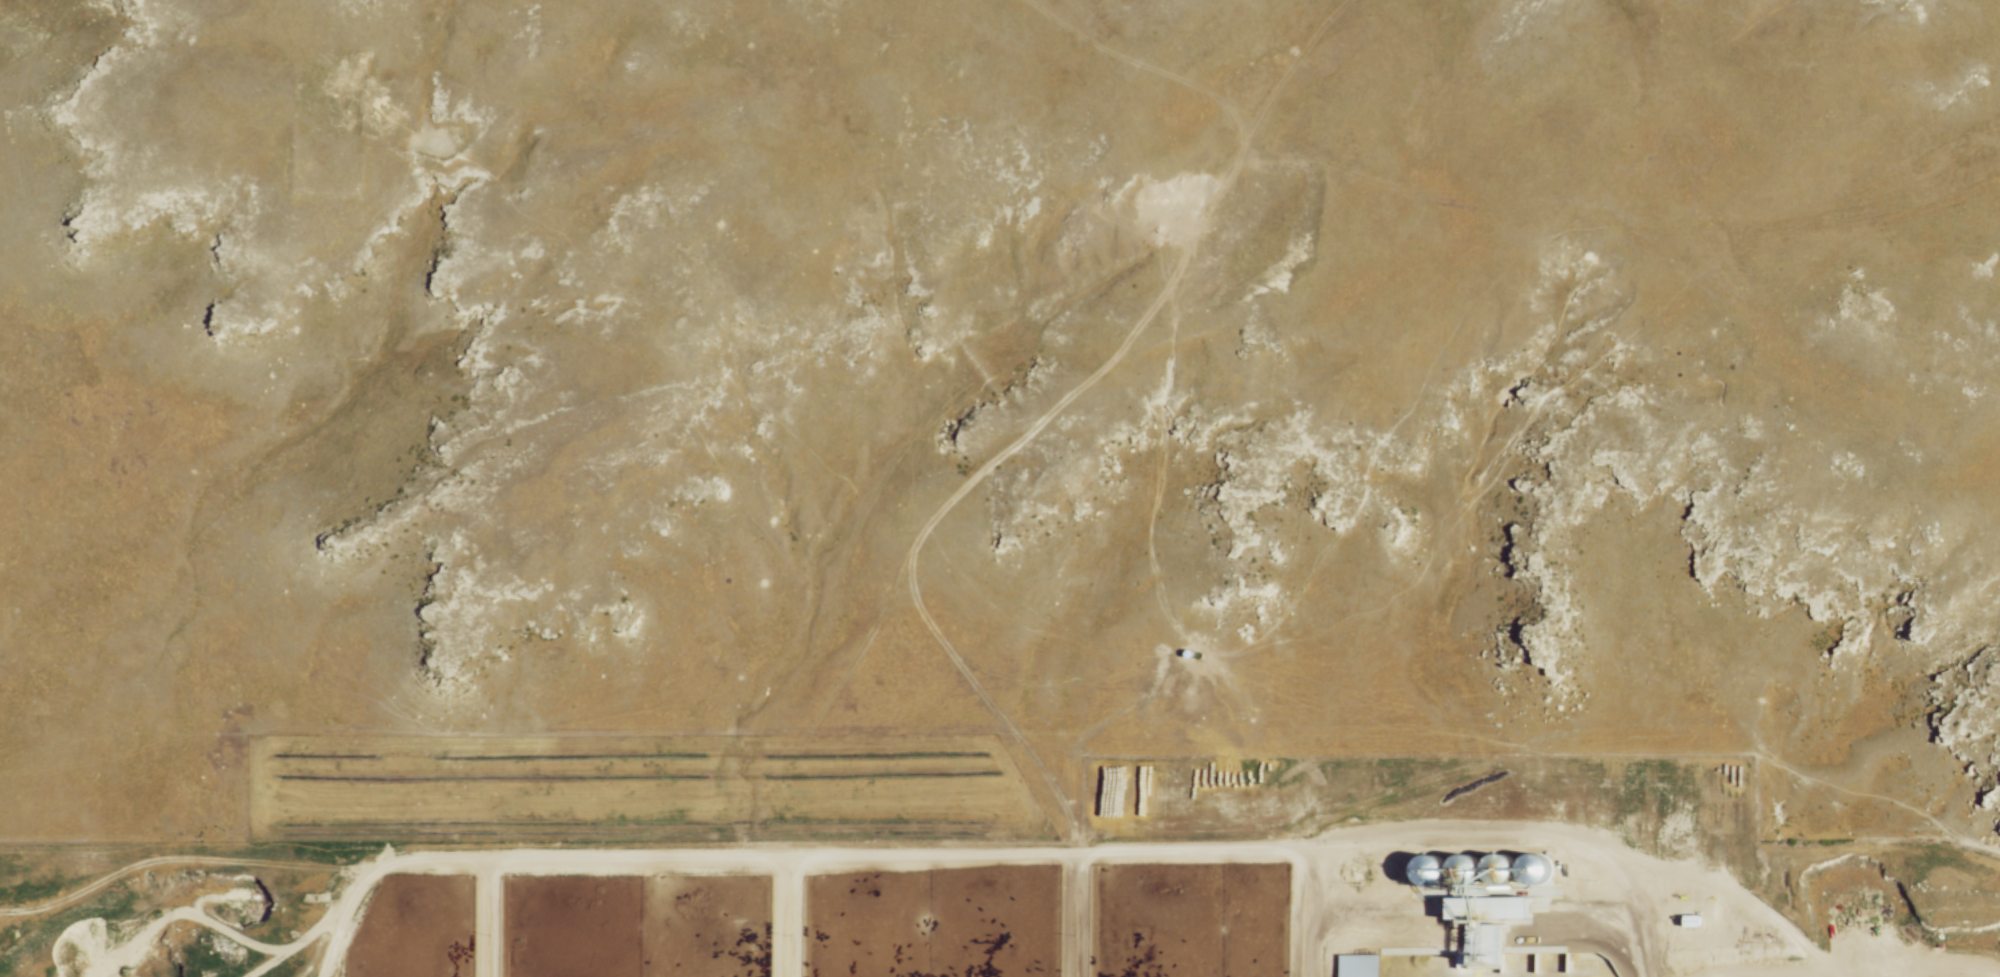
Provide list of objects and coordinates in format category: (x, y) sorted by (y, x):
road: (901, 859)
building: (1534, 869)
silo: (1534, 869)
building: (1501, 871)
silo: (1501, 871)
building: (1429, 872)
silo: (1429, 872)
building: (1466, 872)
silo: (1466, 872)
building: (1489, 909)
road: (1070, 916)
road: (342, 919)
road: (484, 919)
road: (782, 919)
building: (1692, 921)
building: (1494, 946)
building: (1360, 967)
road: (1774, 975)

